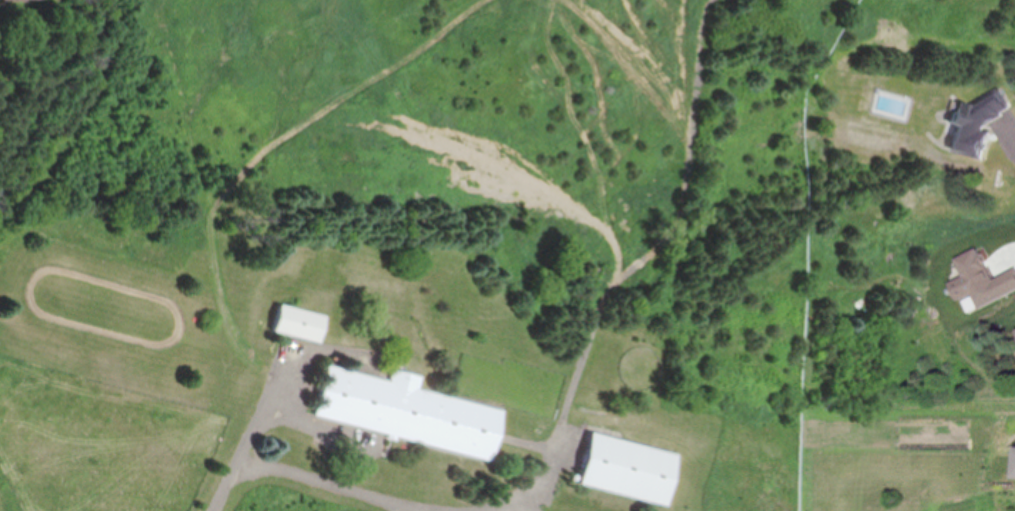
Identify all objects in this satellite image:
building: (20, 0)
building: (300, 323)
road: (272, 402)
building: (406, 411)
road: (320, 427)
building: (624, 468)
road: (353, 490)

